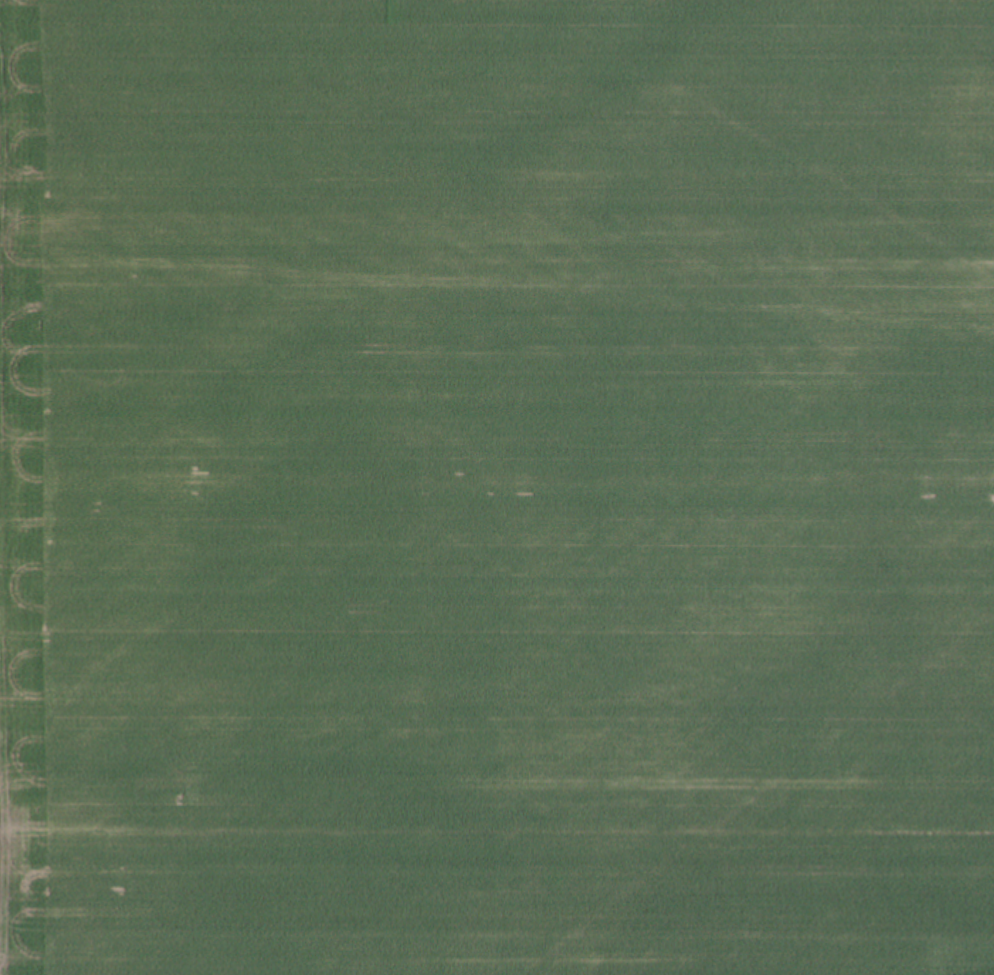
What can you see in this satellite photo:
crop: (497, 487)

